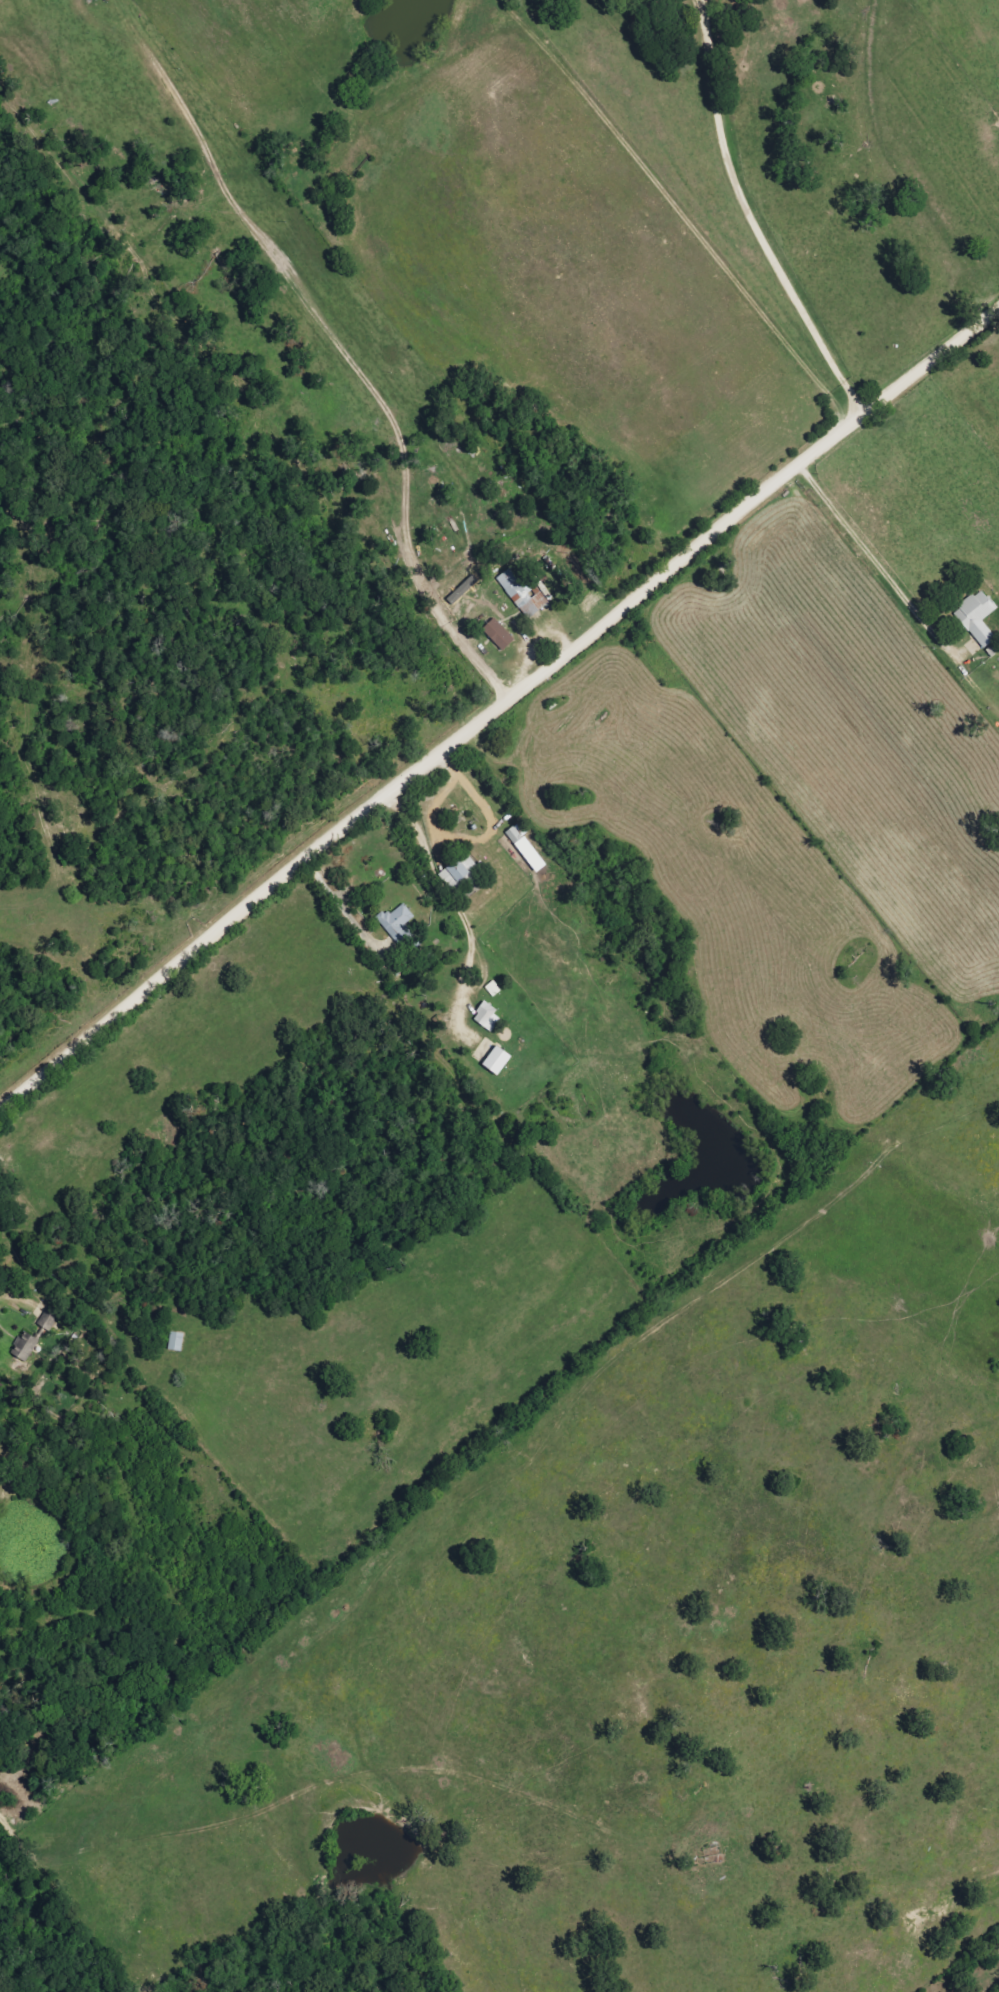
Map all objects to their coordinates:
road: (757, 219)
road: (882, 561)
building: (524, 594)
building: (976, 618)
building: (498, 635)
road: (496, 711)
building: (458, 871)
building: (396, 924)
building: (486, 1017)
building: (496, 1060)
building: (175, 1342)
building: (25, 1347)

